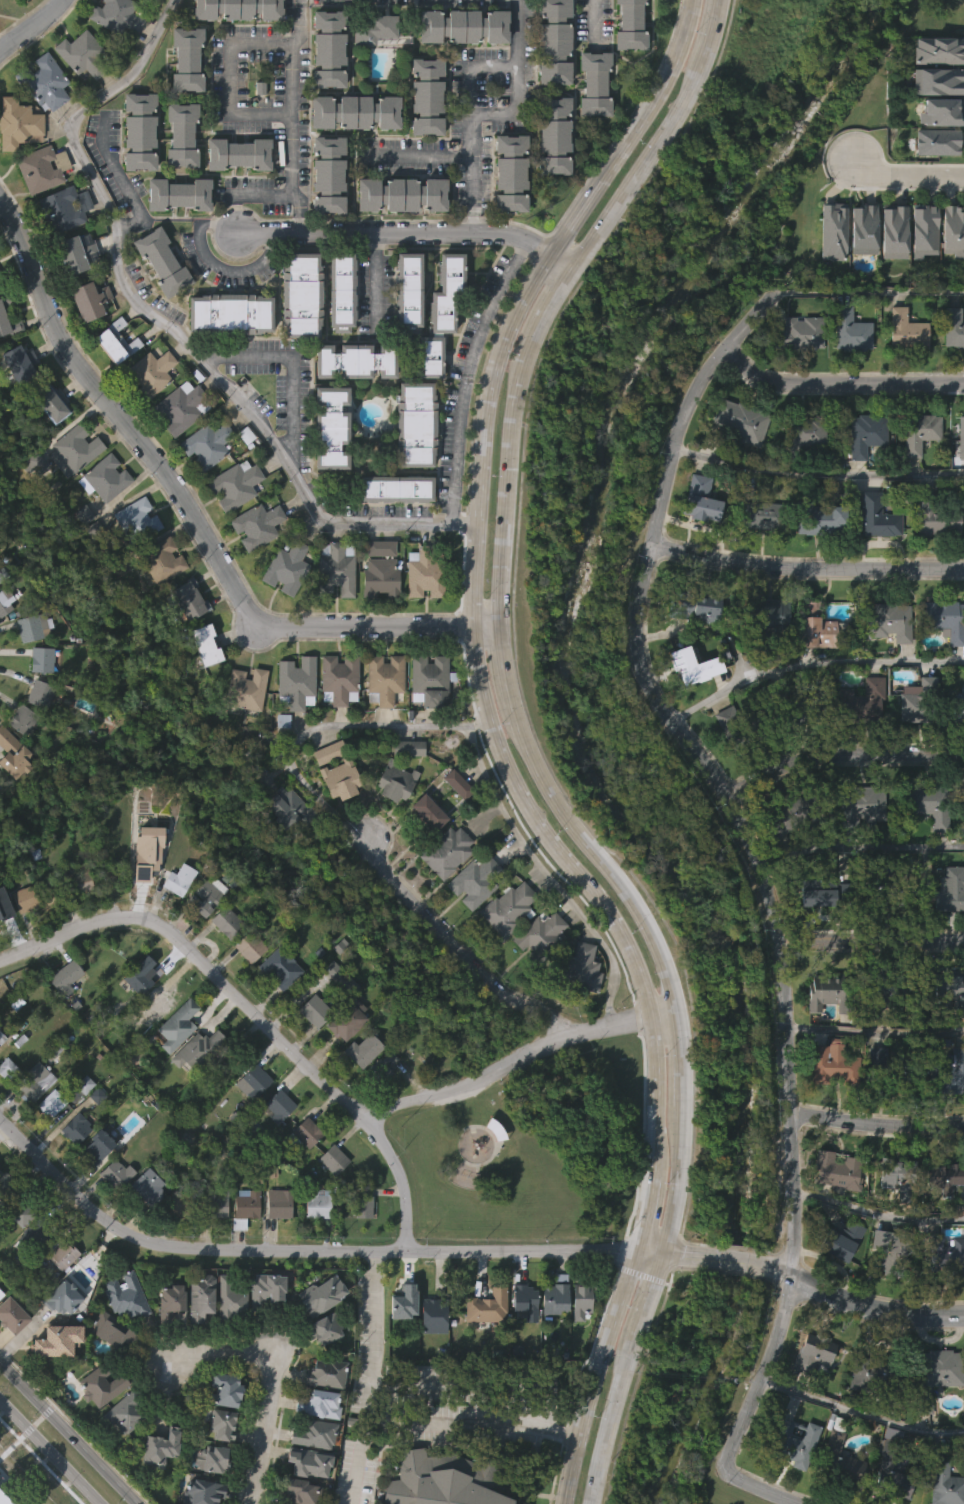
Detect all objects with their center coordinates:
road: (300, 1)
building: (235, 8)
building: (117, 17)
road: (592, 21)
building: (463, 23)
building: (374, 25)
building: (628, 25)
road: (34, 28)
building: (551, 41)
building: (235, 44)
building: (328, 47)
building: (938, 50)
building: (111, 53)
building: (82, 54)
building: (183, 59)
building: (626, 59)
road: (464, 66)
building: (460, 67)
building: (370, 69)
road: (288, 76)
building: (937, 80)
building: (592, 82)
building: (44, 83)
building: (325, 90)
building: (78, 94)
building: (427, 94)
building: (184, 100)
road: (224, 109)
building: (356, 109)
road: (498, 111)
building: (941, 111)
building: (43, 123)
building: (18, 124)
building: (591, 125)
building: (140, 129)
building: (182, 132)
building: (552, 136)
building: (423, 138)
building: (239, 152)
building: (352, 152)
building: (939, 153)
road: (420, 155)
building: (17, 165)
building: (42, 167)
building: (136, 172)
building: (328, 173)
building: (508, 173)
building: (178, 175)
building: (551, 177)
road: (897, 180)
road: (124, 183)
building: (934, 183)
building: (402, 191)
building: (235, 194)
building: (179, 195)
road: (261, 195)
building: (64, 208)
building: (36, 211)
building: (507, 214)
building: (325, 215)
road: (471, 219)
road: (296, 223)
building: (923, 229)
road: (410, 230)
building: (832, 231)
building: (175, 235)
building: (398, 236)
building: (79, 253)
building: (163, 260)
building: (860, 270)
building: (921, 270)
building: (829, 272)
building: (890, 272)
building: (950, 272)
building: (1, 277)
road: (373, 282)
road: (871, 290)
building: (339, 291)
building: (404, 291)
building: (303, 293)
building: (73, 294)
building: (4, 298)
building: (90, 299)
building: (159, 303)
building: (226, 313)
building: (438, 314)
building: (9, 325)
building: (955, 326)
road: (167, 328)
building: (855, 328)
building: (405, 330)
building: (909, 330)
building: (337, 332)
building: (803, 332)
building: (297, 335)
building: (117, 340)
building: (87, 341)
building: (227, 353)
building: (437, 358)
building: (351, 361)
building: (21, 362)
road: (290, 363)
building: (8, 365)
building: (951, 369)
building: (847, 371)
building: (903, 371)
building: (150, 373)
building: (795, 374)
road: (467, 376)
building: (113, 382)
road: (839, 383)
building: (351, 401)
building: (18, 403)
building: (49, 403)
building: (182, 406)
building: (149, 413)
building: (743, 421)
building: (418, 423)
building: (328, 428)
building: (921, 432)
building: (867, 434)
building: (962, 436)
building: (807, 437)
building: (50, 443)
building: (207, 444)
building: (79, 446)
building: (736, 462)
building: (34, 463)
building: (412, 465)
road: (818, 472)
building: (915, 473)
building: (862, 475)
building: (801, 477)
building: (959, 477)
building: (105, 478)
building: (235, 484)
building: (74, 488)
building: (394, 489)
building: (328, 497)
building: (702, 499)
building: (32, 504)
road: (192, 515)
building: (758, 515)
building: (880, 515)
building: (938, 516)
building: (102, 519)
building: (137, 520)
building: (829, 522)
building: (258, 524)
building: (231, 525)
building: (393, 529)
building: (697, 541)
building: (381, 548)
building: (81, 555)
building: (754, 556)
building: (873, 557)
building: (135, 559)
building: (163, 560)
building: (818, 560)
building: (933, 560)
building: (255, 565)
building: (288, 567)
building: (336, 568)
road: (808, 570)
building: (426, 571)
building: (3, 572)
building: (381, 577)
road: (471, 583)
building: (185, 599)
building: (160, 601)
building: (696, 605)
building: (4, 606)
building: (283, 609)
building: (333, 609)
building: (420, 615)
building: (377, 618)
building: (770, 619)
building: (947, 619)
building: (891, 621)
building: (819, 626)
building: (32, 627)
building: (186, 640)
building: (3, 641)
building: (207, 645)
building: (692, 648)
building: (766, 655)
building: (43, 659)
building: (942, 660)
road: (810, 662)
building: (885, 662)
building: (28, 667)
building: (814, 668)
building: (340, 679)
building: (386, 679)
building: (431, 680)
building: (297, 683)
building: (203, 685)
building: (247, 688)
building: (41, 693)
building: (864, 702)
building: (922, 702)
building: (689, 707)
building: (960, 707)
building: (798, 710)
building: (22, 719)
building: (336, 720)
building: (381, 720)
building: (426, 721)
building: (293, 723)
road: (323, 723)
building: (739, 728)
building: (244, 729)
building: (37, 734)
building: (912, 737)
building: (858, 742)
building: (410, 747)
building: (956, 748)
road: (527, 749)
building: (328, 753)
building: (14, 754)
road: (839, 756)
building: (279, 761)
building: (342, 779)
building: (397, 781)
building: (459, 783)
building: (326, 793)
building: (11, 795)
building: (931, 805)
building: (863, 806)
building: (292, 810)
building: (425, 811)
building: (796, 815)
building: (337, 820)
building: (392, 821)
building: (454, 824)
building: (926, 845)
building: (857, 846)
road: (860, 848)
building: (285, 850)
building: (963, 850)
building: (448, 852)
building: (424, 853)
building: (798, 854)
building: (772, 864)
road: (761, 873)
building: (112, 875)
building: (82, 879)
building: (180, 880)
building: (476, 881)
building: (887, 889)
building: (951, 889)
building: (53, 892)
building: (444, 892)
building: (825, 892)
building: (144, 893)
building: (210, 896)
building: (26, 899)
building: (510, 909)
building: (3, 914)
building: (176, 920)
building: (79, 922)
building: (229, 923)
building: (469, 923)
building: (947, 930)
building: (818, 933)
building: (542, 936)
building: (203, 937)
building: (882, 937)
building: (22, 938)
road: (871, 941)
building: (251, 945)
building: (505, 948)
building: (223, 962)
building: (281, 968)
building: (581, 969)
building: (537, 974)
building: (65, 976)
building: (341, 978)
building: (139, 980)
building: (247, 987)
road: (489, 987)
building: (896, 990)
building: (950, 991)
building: (832, 992)
building: (159, 1005)
building: (576, 1008)
building: (277, 1009)
building: (316, 1011)
building: (330, 1011)
building: (62, 1017)
building: (135, 1020)
building: (349, 1021)
building: (178, 1026)
road: (873, 1028)
building: (946, 1028)
building: (821, 1031)
building: (2, 1036)
road: (282, 1044)
building: (154, 1045)
building: (199, 1050)
building: (311, 1050)
building: (365, 1050)
building: (345, 1060)
building: (174, 1065)
building: (832, 1066)
building: (8, 1067)
building: (383, 1067)
building: (225, 1068)
building: (891, 1071)
building: (42, 1073)
building: (948, 1075)
building: (1, 1078)
building: (255, 1082)
building: (193, 1090)
building: (360, 1090)
building: (873, 1096)
building: (51, 1102)
building: (278, 1104)
building: (829, 1104)
building: (380, 1106)
building: (6, 1108)
building: (222, 1111)
building: (948, 1117)
building: (33, 1122)
building: (250, 1122)
road: (875, 1123)
building: (76, 1127)
building: (305, 1132)
building: (48, 1143)
building: (98, 1145)
building: (275, 1146)
park: (530, 1152)
building: (335, 1157)
building: (73, 1168)
building: (838, 1171)
building: (304, 1172)
building: (114, 1175)
building: (901, 1176)
road: (400, 1177)
building: (944, 1177)
building: (5, 1181)
building: (94, 1187)
building: (144, 1187)
building: (332, 1198)
building: (180, 1203)
building: (216, 1204)
building: (276, 1204)
building: (317, 1204)
building: (364, 1205)
building: (22, 1207)
building: (246, 1207)
building: (830, 1209)
road: (877, 1211)
building: (113, 1213)
road: (647, 1214)
building: (893, 1216)
building: (943, 1217)
building: (3, 1221)
building: (145, 1226)
building: (40, 1230)
building: (844, 1239)
building: (174, 1242)
building: (243, 1243)
building: (314, 1243)
building: (727, 1243)
building: (275, 1245)
building: (213, 1246)
building: (360, 1246)
building: (894, 1247)
road: (296, 1251)
building: (62, 1252)
road: (671, 1252)
building: (17, 1253)
building: (946, 1256)
road: (733, 1258)
building: (235, 1264)
building: (34, 1272)
building: (876, 1279)
building: (828, 1286)
building: (267, 1288)
building: (1, 1293)
building: (402, 1294)
building: (318, 1295)
building: (943, 1295)
building: (126, 1296)
building: (63, 1297)
building: (201, 1297)
building: (521, 1297)
building: (553, 1298)
building: (231, 1299)
building: (172, 1301)
building: (579, 1301)
road: (860, 1305)
building: (485, 1308)
building: (434, 1315)
building: (325, 1328)
building: (109, 1330)
building: (263, 1330)
building: (0, 1333)
road: (19, 1335)
building: (61, 1336)
building: (197, 1337)
building: (227, 1338)
building: (521, 1338)
building: (551, 1339)
building: (167, 1341)
building: (579, 1341)
building: (401, 1342)
building: (484, 1347)
building: (815, 1353)
building: (10, 1355)
building: (430, 1356)
building: (110, 1370)
building: (328, 1373)
road: (593, 1374)
building: (873, 1375)
building: (936, 1375)
road: (369, 1378)
building: (55, 1379)
road: (266, 1380)
road: (478, 1382)
building: (103, 1385)
building: (221, 1390)
building: (810, 1393)
building: (316, 1405)
building: (935, 1409)
road: (861, 1411)
building: (125, 1412)
building: (865, 1415)
building: (98, 1425)
building: (219, 1425)
road: (470, 1426)
building: (316, 1433)
road: (65, 1434)
building: (795, 1443)
building: (158, 1446)
building: (121, 1453)
road: (45, 1456)
building: (840, 1457)
building: (211, 1459)
building: (304, 1462)
building: (890, 1471)
building: (445, 1479)
building: (790, 1481)
building: (947, 1484)
building: (158, 1486)
building: (833, 1490)
building: (201, 1492)
building: (296, 1492)
building: (7, 1496)
road: (787, 1497)
building: (888, 1498)

